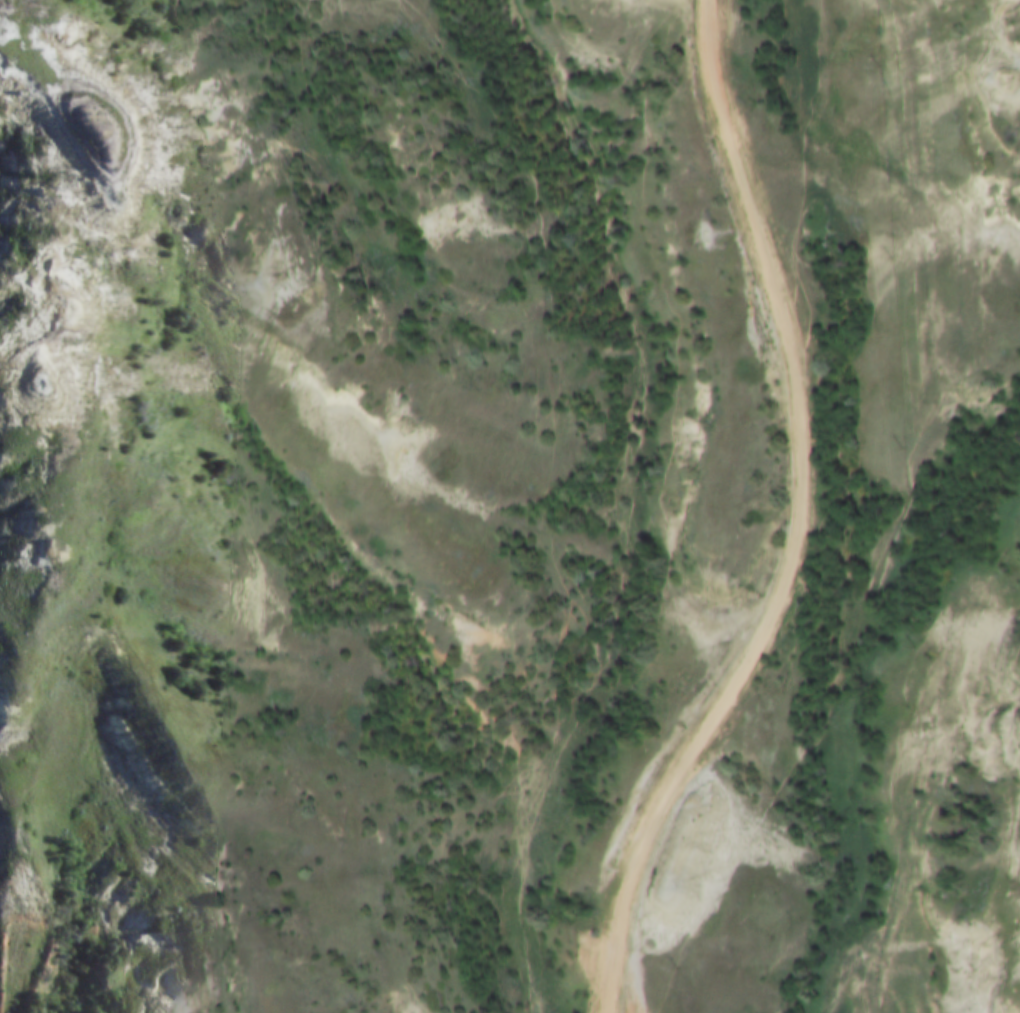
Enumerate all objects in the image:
road: (802, 523)

